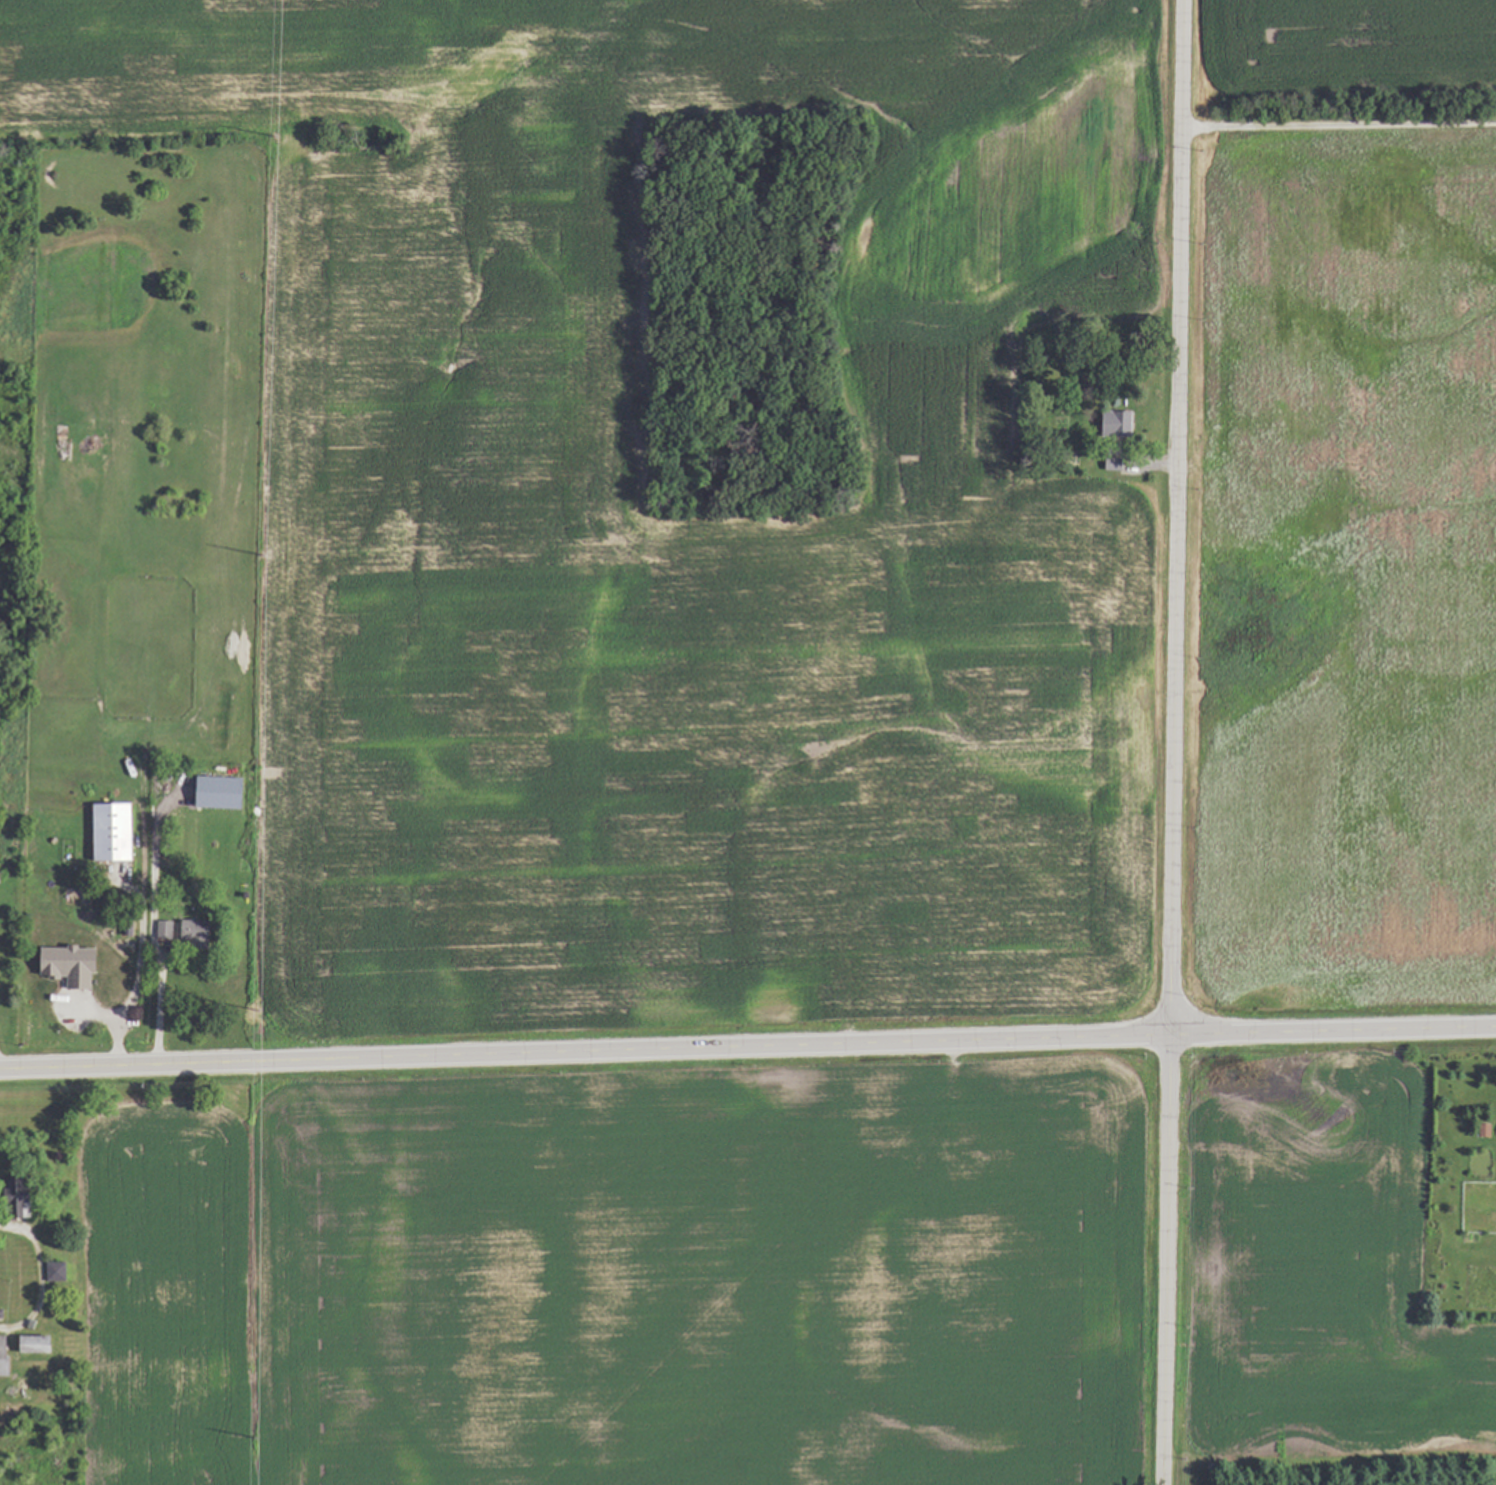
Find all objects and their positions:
road: (1338, 124)
building: (1111, 421)
building: (1106, 463)
crop: (855, 497)
road: (1171, 742)
building: (113, 832)
building: (165, 931)
building: (194, 932)
building: (114, 994)
building: (77, 997)
road: (157, 1009)
road: (747, 1049)
building: (22, 1197)
building: (55, 1273)
road: (38, 1276)
building: (37, 1345)
building: (5, 1356)

